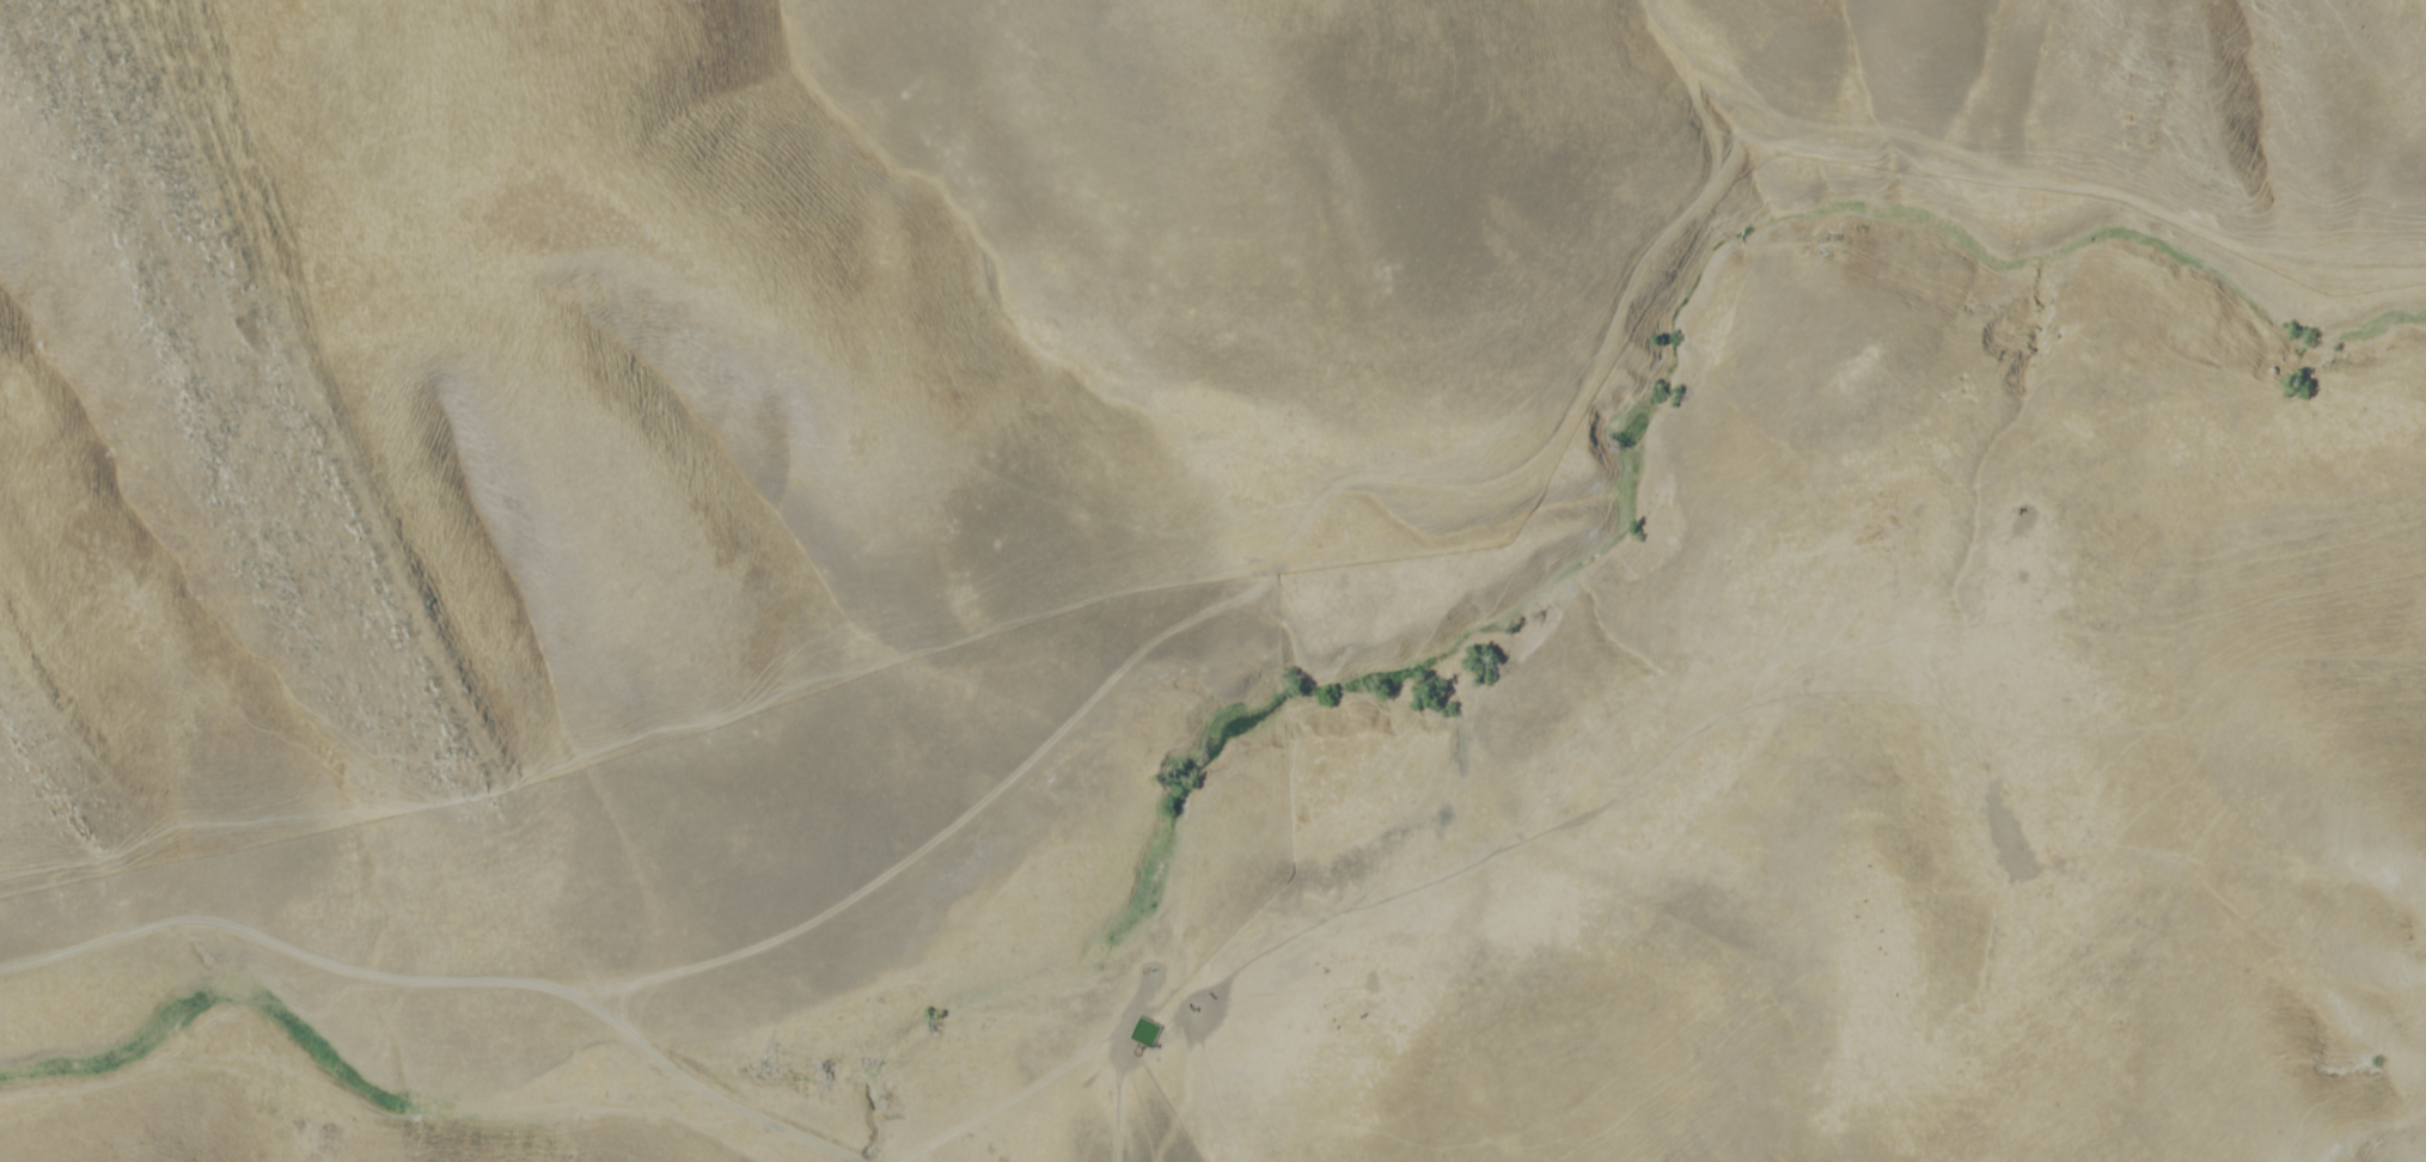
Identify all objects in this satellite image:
road: (1016, 493)

